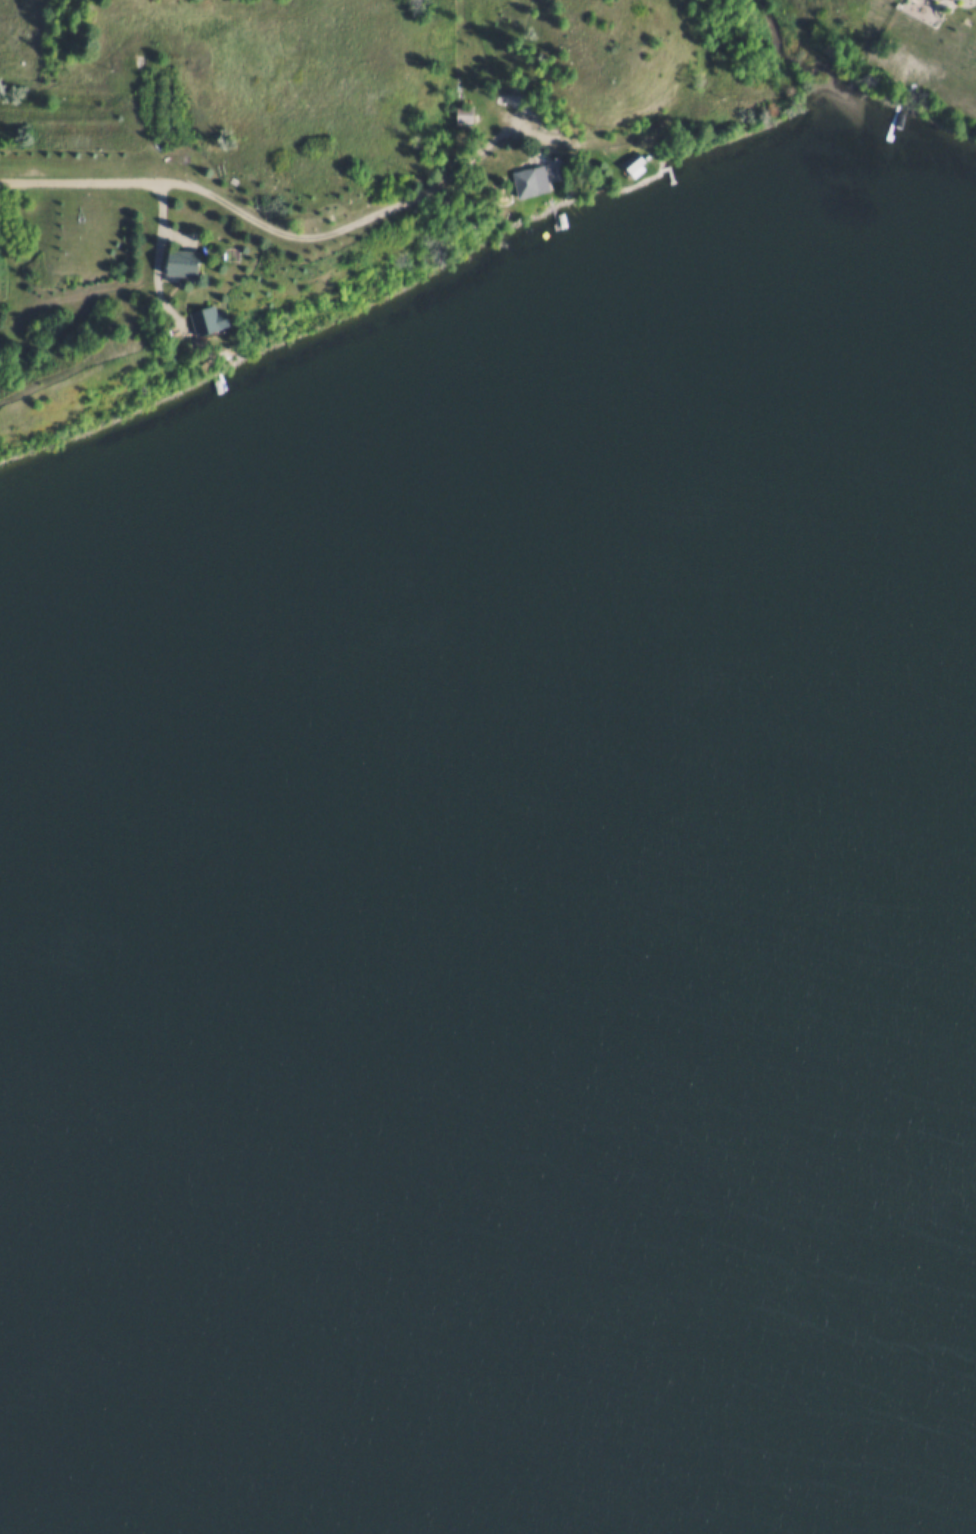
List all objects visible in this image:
building: (459, 112)
road: (97, 113)
building: (629, 162)
road: (78, 178)
building: (524, 179)
road: (371, 209)
road: (149, 255)
building: (171, 260)
building: (198, 319)

